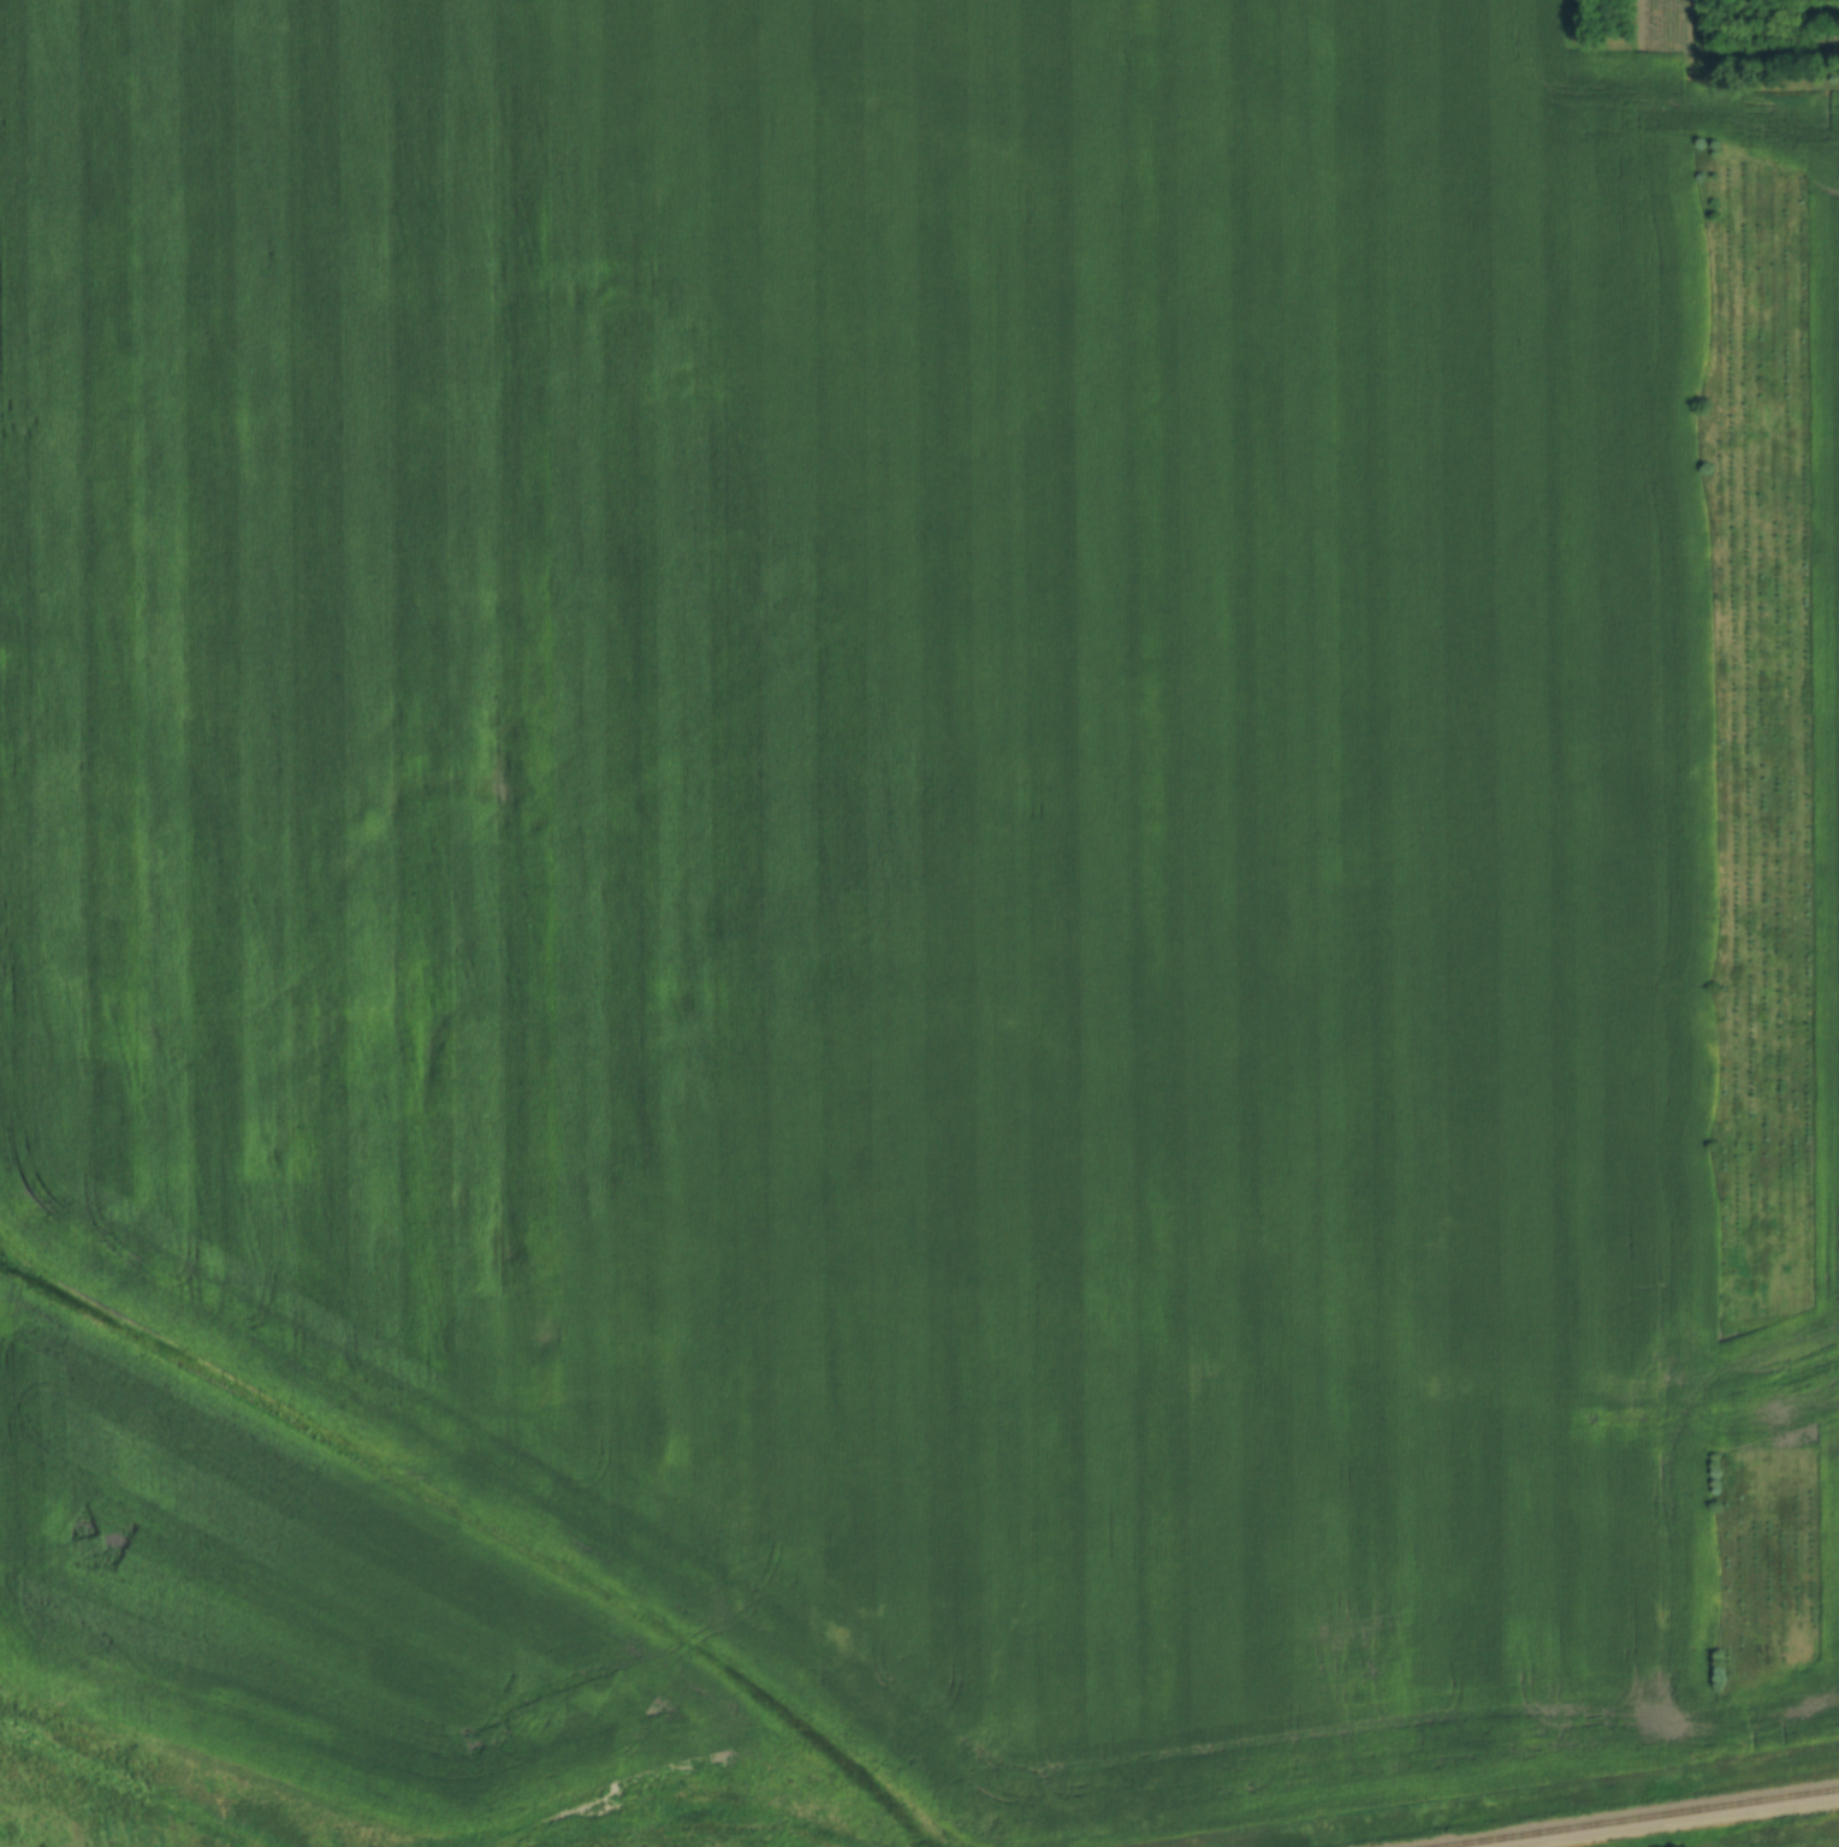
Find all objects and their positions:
railway: (1638, 1818)

